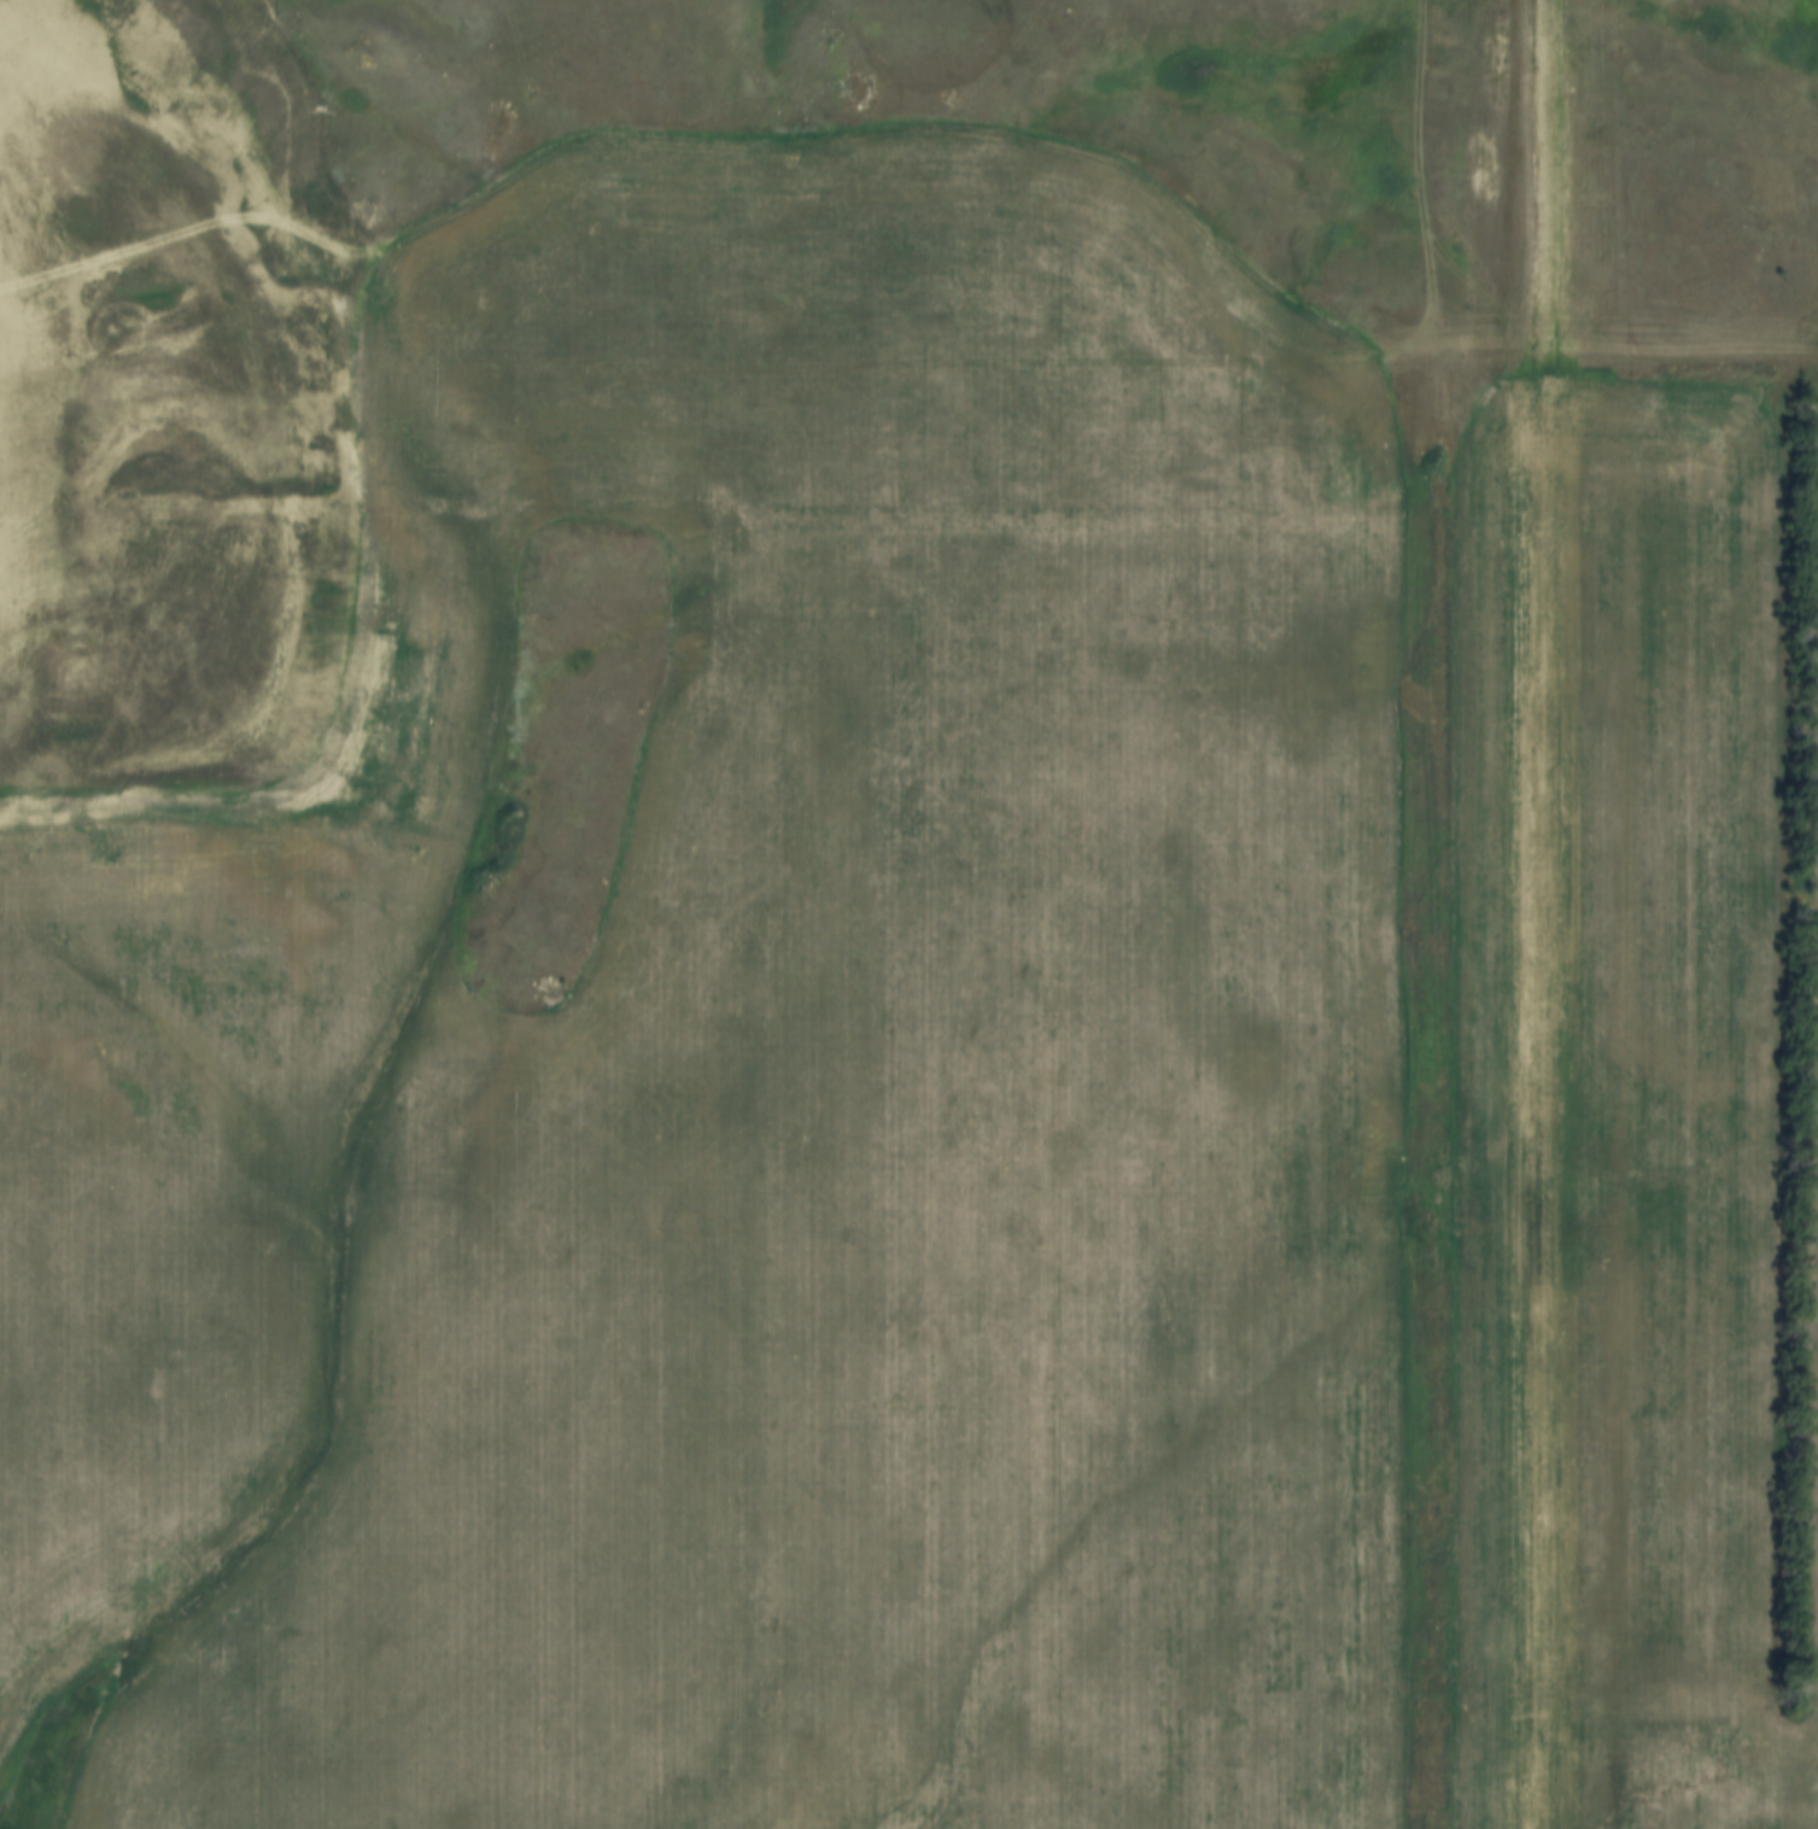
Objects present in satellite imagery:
road: (1498, 298)

